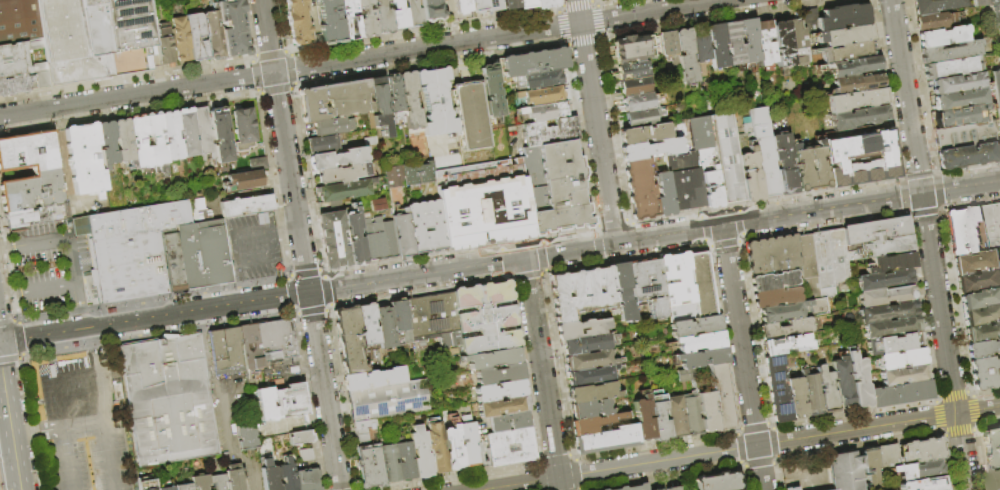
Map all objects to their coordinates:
building: (224, 1)
road: (590, 1)
road: (609, 2)
building: (523, 3)
building: (542, 3)
road: (558, 3)
road: (575, 3)
road: (593, 3)
building: (980, 3)
building: (506, 4)
building: (490, 5)
road: (558, 6)
building: (935, 6)
building: (459, 7)
building: (476, 7)
building: (429, 10)
building: (995, 12)
building: (411, 14)
building: (395, 15)
building: (379, 17)
building: (841, 18)
building: (347, 19)
building: (363, 19)
road: (711, 19)
road: (597, 20)
building: (18, 21)
building: (934, 21)
building: (296, 22)
building: (328, 22)
road: (281, 25)
road: (560, 25)
road: (248, 27)
building: (232, 29)
road: (424, 30)
building: (214, 35)
building: (796, 36)
building: (845, 36)
building: (943, 37)
building: (197, 38)
building: (95, 39)
building: (182, 40)
road: (583, 40)
building: (749, 41)
building: (733, 43)
building: (765, 43)
building: (667, 44)
building: (699, 44)
building: (781, 44)
building: (166, 46)
building: (716, 46)
building: (629, 48)
road: (286, 51)
building: (951, 52)
road: (268, 53)
building: (844, 53)
building: (685, 56)
building: (153, 57)
building: (19, 58)
road: (361, 58)
road: (250, 60)
road: (430, 63)
building: (530, 63)
building: (855, 68)
building: (952, 68)
road: (290, 69)
building: (632, 71)
road: (457, 72)
road: (252, 75)
road: (128, 78)
building: (536, 81)
building: (23, 84)
building: (858, 84)
building: (958, 84)
building: (490, 86)
road: (291, 87)
building: (634, 87)
road: (918, 88)
building: (997, 89)
road: (885, 90)
road: (274, 91)
building: (377, 92)
building: (394, 92)
building: (539, 95)
building: (333, 97)
building: (410, 97)
road: (905, 97)
building: (435, 98)
building: (960, 100)
building: (637, 102)
building: (858, 102)
building: (543, 111)
road: (130, 112)
building: (470, 112)
building: (962, 116)
building: (640, 118)
building: (383, 120)
road: (595, 121)
building: (861, 121)
building: (332, 125)
road: (612, 127)
building: (242, 131)
building: (547, 131)
building: (202, 132)
road: (579, 132)
building: (186, 133)
building: (644, 134)
building: (170, 136)
building: (965, 136)
building: (220, 138)
building: (122, 141)
building: (138, 143)
building: (155, 143)
building: (320, 143)
building: (106, 144)
road: (284, 146)
building: (652, 150)
building: (763, 152)
building: (969, 156)
building: (336, 158)
building: (725, 158)
building: (704, 159)
building: (834, 159)
building: (84, 161)
building: (783, 163)
building: (259, 164)
road: (964, 166)
building: (810, 168)
building: (341, 173)
building: (424, 173)
building: (44, 174)
building: (409, 175)
road: (916, 175)
building: (749, 176)
building: (394, 177)
building: (244, 181)
road: (306, 181)
road: (271, 182)
building: (685, 182)
building: (553, 187)
road: (960, 188)
building: (342, 190)
building: (641, 190)
road: (935, 191)
building: (663, 193)
traffic signals: (921, 194)
road: (901, 196)
road: (763, 200)
road: (967, 204)
building: (375, 206)
road: (734, 206)
building: (245, 207)
building: (197, 210)
road: (922, 211)
building: (483, 212)
road: (701, 212)
building: (33, 217)
building: (362, 217)
building: (363, 222)
road: (737, 224)
building: (992, 224)
road: (611, 225)
road: (722, 226)
road: (822, 226)
building: (424, 227)
building: (965, 229)
road: (286, 230)
road: (704, 230)
building: (400, 235)
building: (353, 238)
road: (537, 238)
building: (332, 239)
building: (387, 240)
road: (33, 243)
road: (723, 243)
road: (596, 244)
building: (377, 246)
building: (367, 247)
building: (852, 247)
road: (457, 248)
building: (132, 250)
building: (766, 254)
road: (540, 255)
building: (202, 256)
road: (241, 257)
building: (801, 258)
road: (70, 260)
building: (887, 261)
building: (975, 261)
building: (171, 263)
parking lot: (48, 266)
road: (544, 271)
road: (303, 273)
road: (7, 274)
road: (540, 274)
road: (415, 275)
road: (286, 276)
road: (525, 276)
road: (511, 278)
building: (880, 278)
building: (769, 280)
building: (977, 280)
building: (700, 284)
road: (46, 286)
building: (647, 286)
building: (676, 287)
road: (324, 289)
road: (417, 291)
road: (9, 292)
building: (581, 292)
building: (622, 293)
road: (288, 294)
building: (883, 294)
building: (771, 296)
building: (978, 297)
road: (151, 300)
road: (938, 303)
road: (76, 305)
road: (327, 305)
road: (919, 305)
road: (210, 309)
road: (324, 309)
building: (885, 310)
building: (777, 311)
road: (310, 312)
road: (292, 314)
road: (955, 314)
building: (979, 314)
building: (483, 317)
building: (424, 319)
road: (15, 320)
building: (448, 320)
road: (6, 322)
building: (364, 324)
building: (397, 324)
road: (102, 326)
building: (381, 326)
building: (695, 326)
building: (780, 326)
building: (888, 326)
road: (86, 328)
building: (582, 329)
building: (981, 331)
road: (752, 332)
road: (154, 333)
road: (40, 335)
building: (346, 338)
road: (19, 339)
building: (275, 340)
road: (721, 340)
building: (700, 342)
building: (890, 342)
building: (783, 343)
building: (585, 345)
building: (250, 347)
building: (981, 347)
road: (205, 351)
building: (225, 351)
building: (898, 357)
building: (490, 358)
road: (743, 358)
road: (8, 359)
building: (701, 359)
building: (589, 360)
road: (556, 365)
building: (983, 371)
building: (497, 374)
road: (541, 374)
building: (900, 374)
building: (591, 376)
road: (286, 377)
building: (373, 378)
building: (854, 380)
building: (838, 381)
building: (774, 387)
building: (822, 387)
building: (497, 390)
road: (324, 391)
road: (966, 391)
building: (591, 392)
building: (896, 392)
building: (807, 393)
road: (951, 394)
road: (971, 394)
building: (792, 396)
building: (723, 397)
building: (166, 399)
building: (387, 400)
building: (280, 402)
road: (307, 403)
building: (500, 406)
building: (590, 409)
road: (972, 409)
road: (978, 410)
road: (854, 411)
building: (706, 412)
road: (936, 415)
building: (691, 416)
building: (675, 417)
road: (223, 418)
building: (642, 420)
building: (658, 421)
road: (31, 422)
building: (81, 422)
building: (507, 422)
building: (596, 423)
road: (769, 424)
road: (988, 424)
road: (752, 426)
road: (975, 427)
road: (9, 428)
building: (363, 428)
road: (957, 432)
road: (939, 433)
building: (246, 436)
building: (299, 438)
building: (607, 440)
road: (773, 442)
building: (468, 443)
building: (507, 446)
building: (452, 447)
building: (991, 447)
building: (435, 448)
road: (737, 448)
road: (842, 449)
building: (923, 451)
road: (962, 451)
road: (718, 452)
building: (420, 453)
road: (568, 455)
building: (888, 456)
building: (306, 457)
road: (554, 458)
road: (574, 458)
road: (776, 458)
road: (978, 459)
road: (247, 460)
building: (405, 461)
road: (946, 461)
road: (537, 462)
road: (772, 462)
building: (388, 463)
road: (757, 464)
building: (368, 466)
building: (871, 469)
building: (919, 470)
building: (843, 471)
road: (574, 473)
parking lot: (806, 473)
road: (790, 474)
building: (269, 475)
building: (286, 475)
road: (741, 475)
road: (460, 477)
road: (663, 477)
building: (993, 478)
road: (537, 479)
building: (233, 480)
building: (306, 480)
building: (716, 482)
building: (199, 483)
building: (217, 483)
building: (926, 484)
building: (146, 486)
building: (673, 486)
building: (182, 487)
building: (634, 487)
building: (658, 487)
road: (576, 488)
building: (789, 488)
building: (166, 489)
building: (603, 489)
building: (654, 489)

